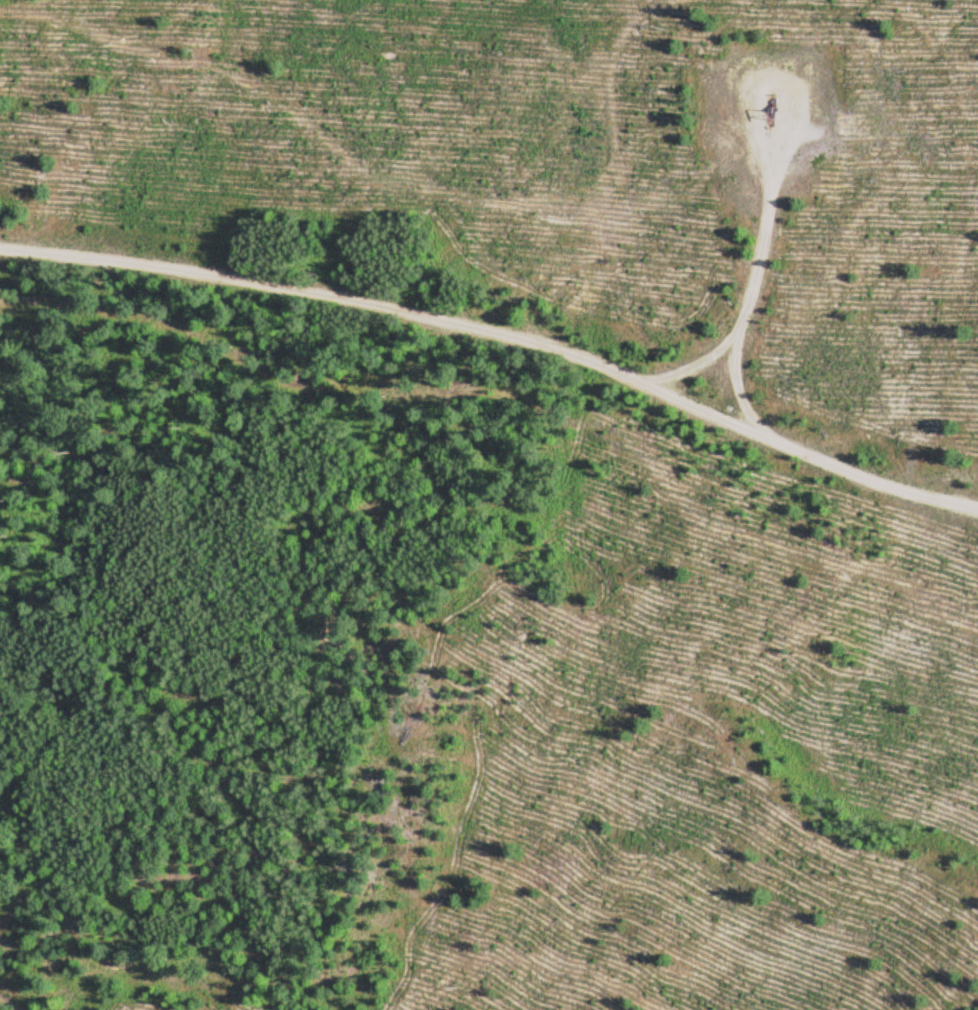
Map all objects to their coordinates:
petroleum well: (765, 116)
road: (750, 300)
road: (501, 332)

